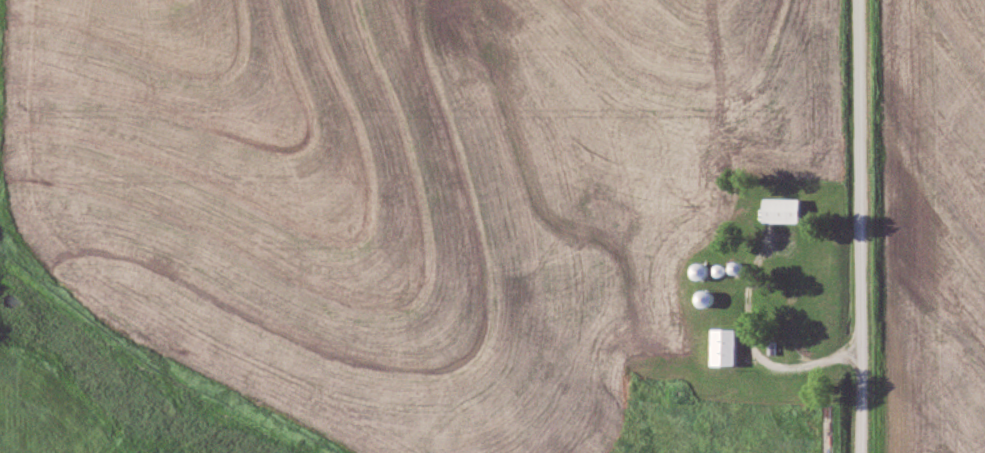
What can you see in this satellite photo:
building: (783, 208)
road: (858, 226)
building: (705, 269)
building: (709, 296)
building: (726, 345)

